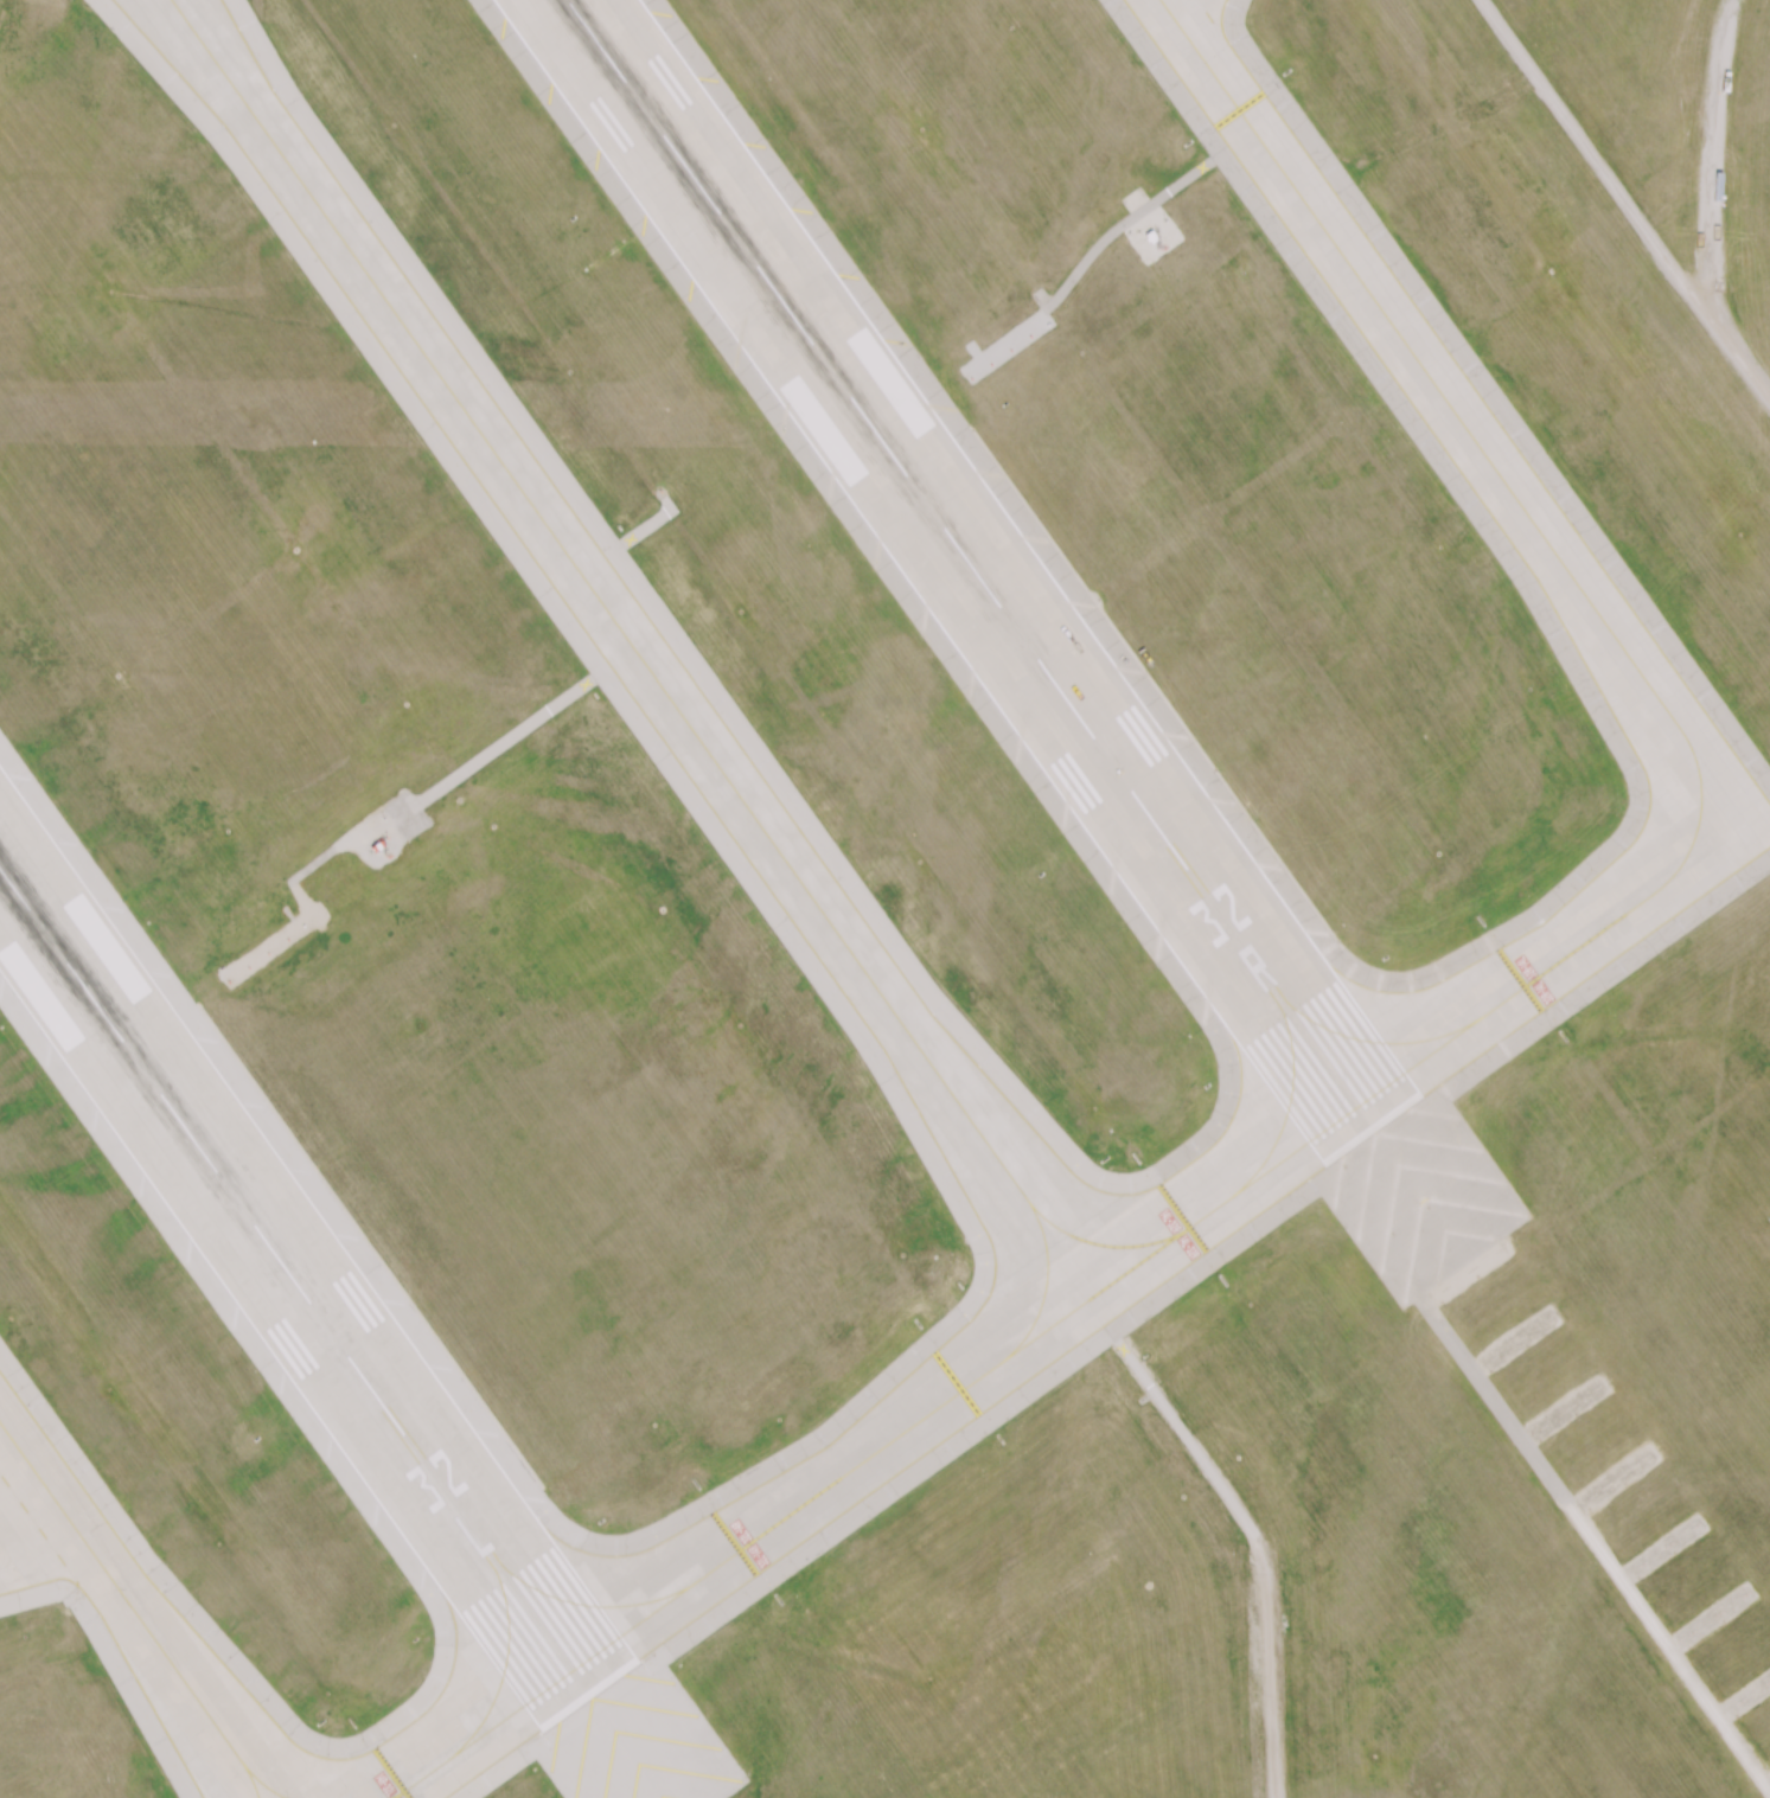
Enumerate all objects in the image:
airport apron: (1195, 19)
road: (1707, 173)
road: (1625, 199)
road: (1101, 242)
airport runway: (969, 562)
airport taxiway: (1578, 587)
airport taxiway: (647, 666)
road: (407, 806)
airport: (884, 898)
airport taxiway: (1365, 1038)
airport taxiway: (1290, 1092)
airport taxiway: (1046, 1279)
airport runway: (295, 1282)
airport taxiway: (964, 1388)
airport apron: (37, 1522)
road: (1247, 1525)
road: (1593, 1548)
airport taxiway: (571, 1600)
airport taxiway: (140, 1607)
airport taxiway: (509, 1649)
airport taxiway: (481, 1733)
airport taxiway: (248, 1774)

